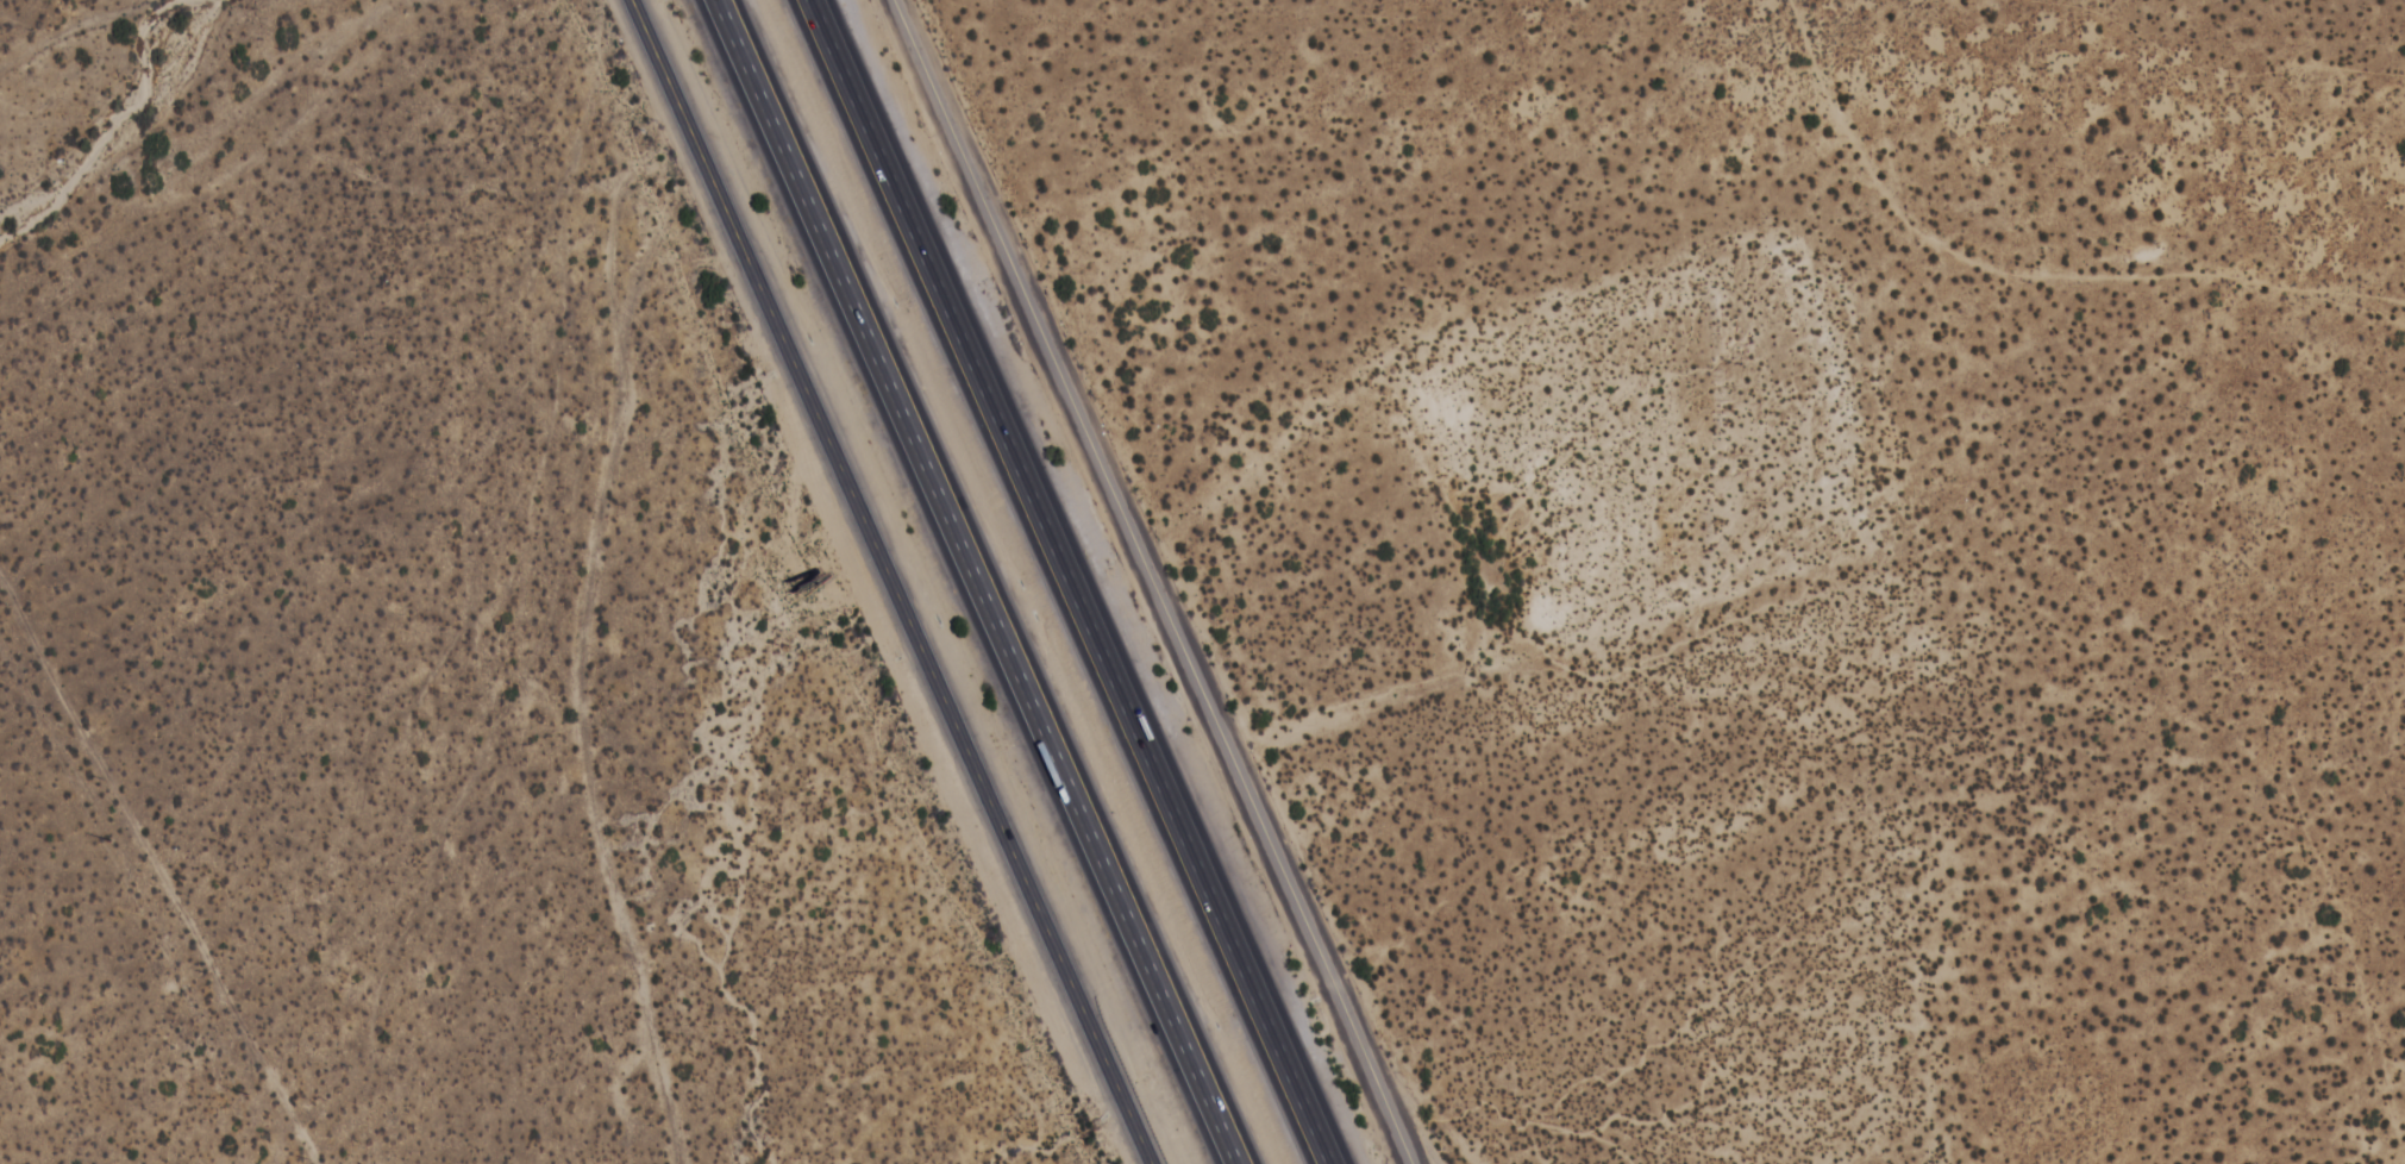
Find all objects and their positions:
road: (666, 89)
road: (1197, 221)
road: (852, 483)
road: (1070, 581)
road: (971, 582)
road: (1158, 582)
road: (620, 667)
road: (1078, 976)

